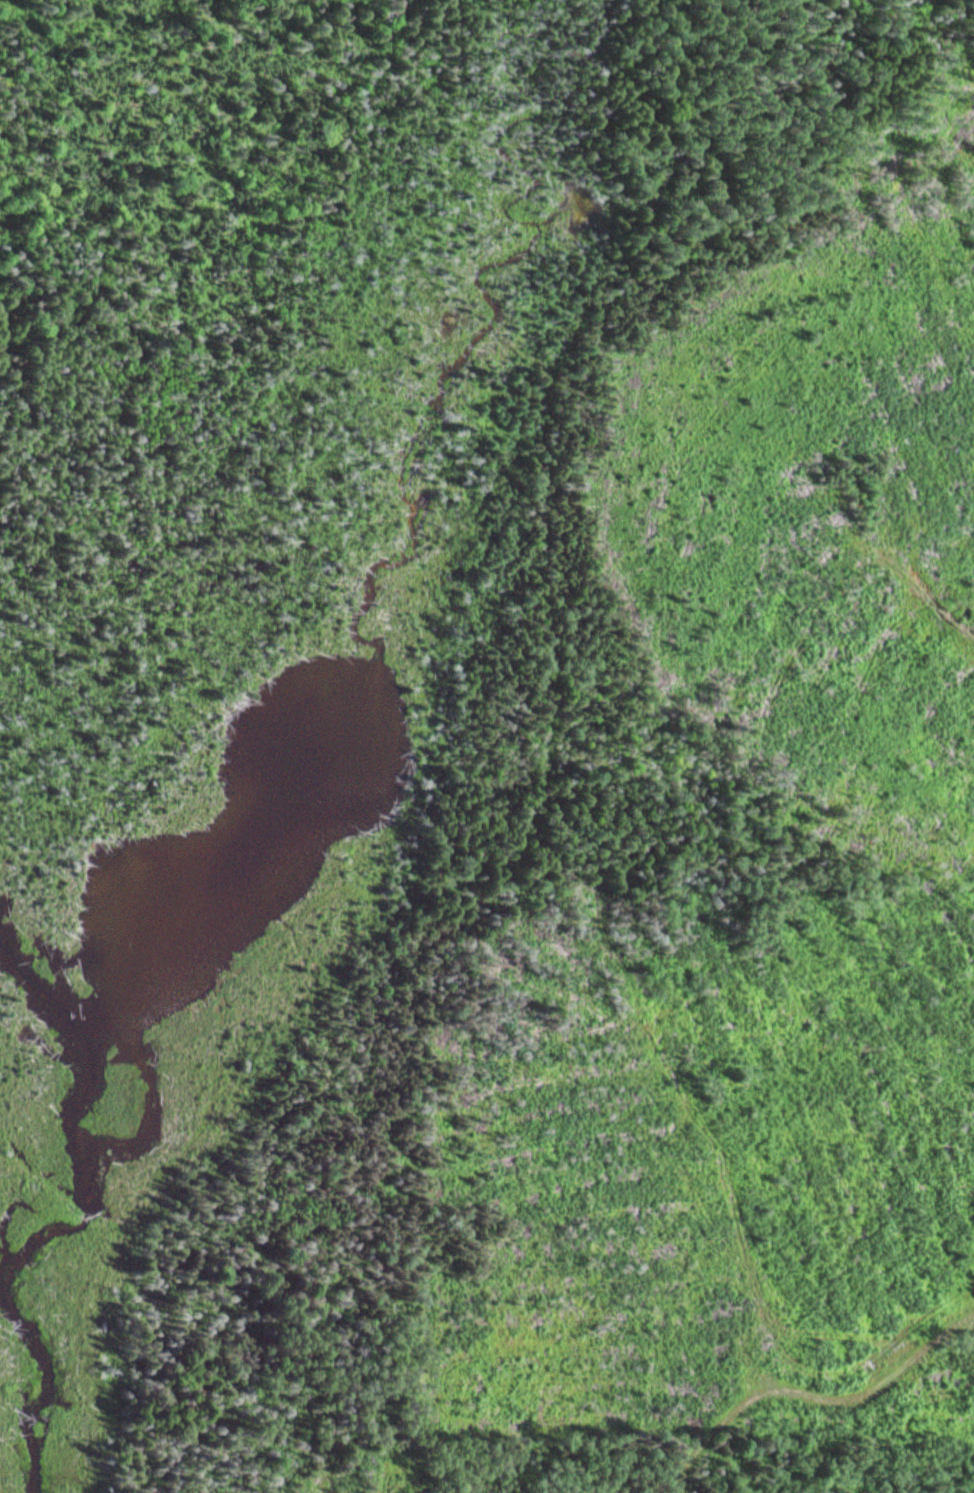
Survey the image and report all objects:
road: (801, 1373)

